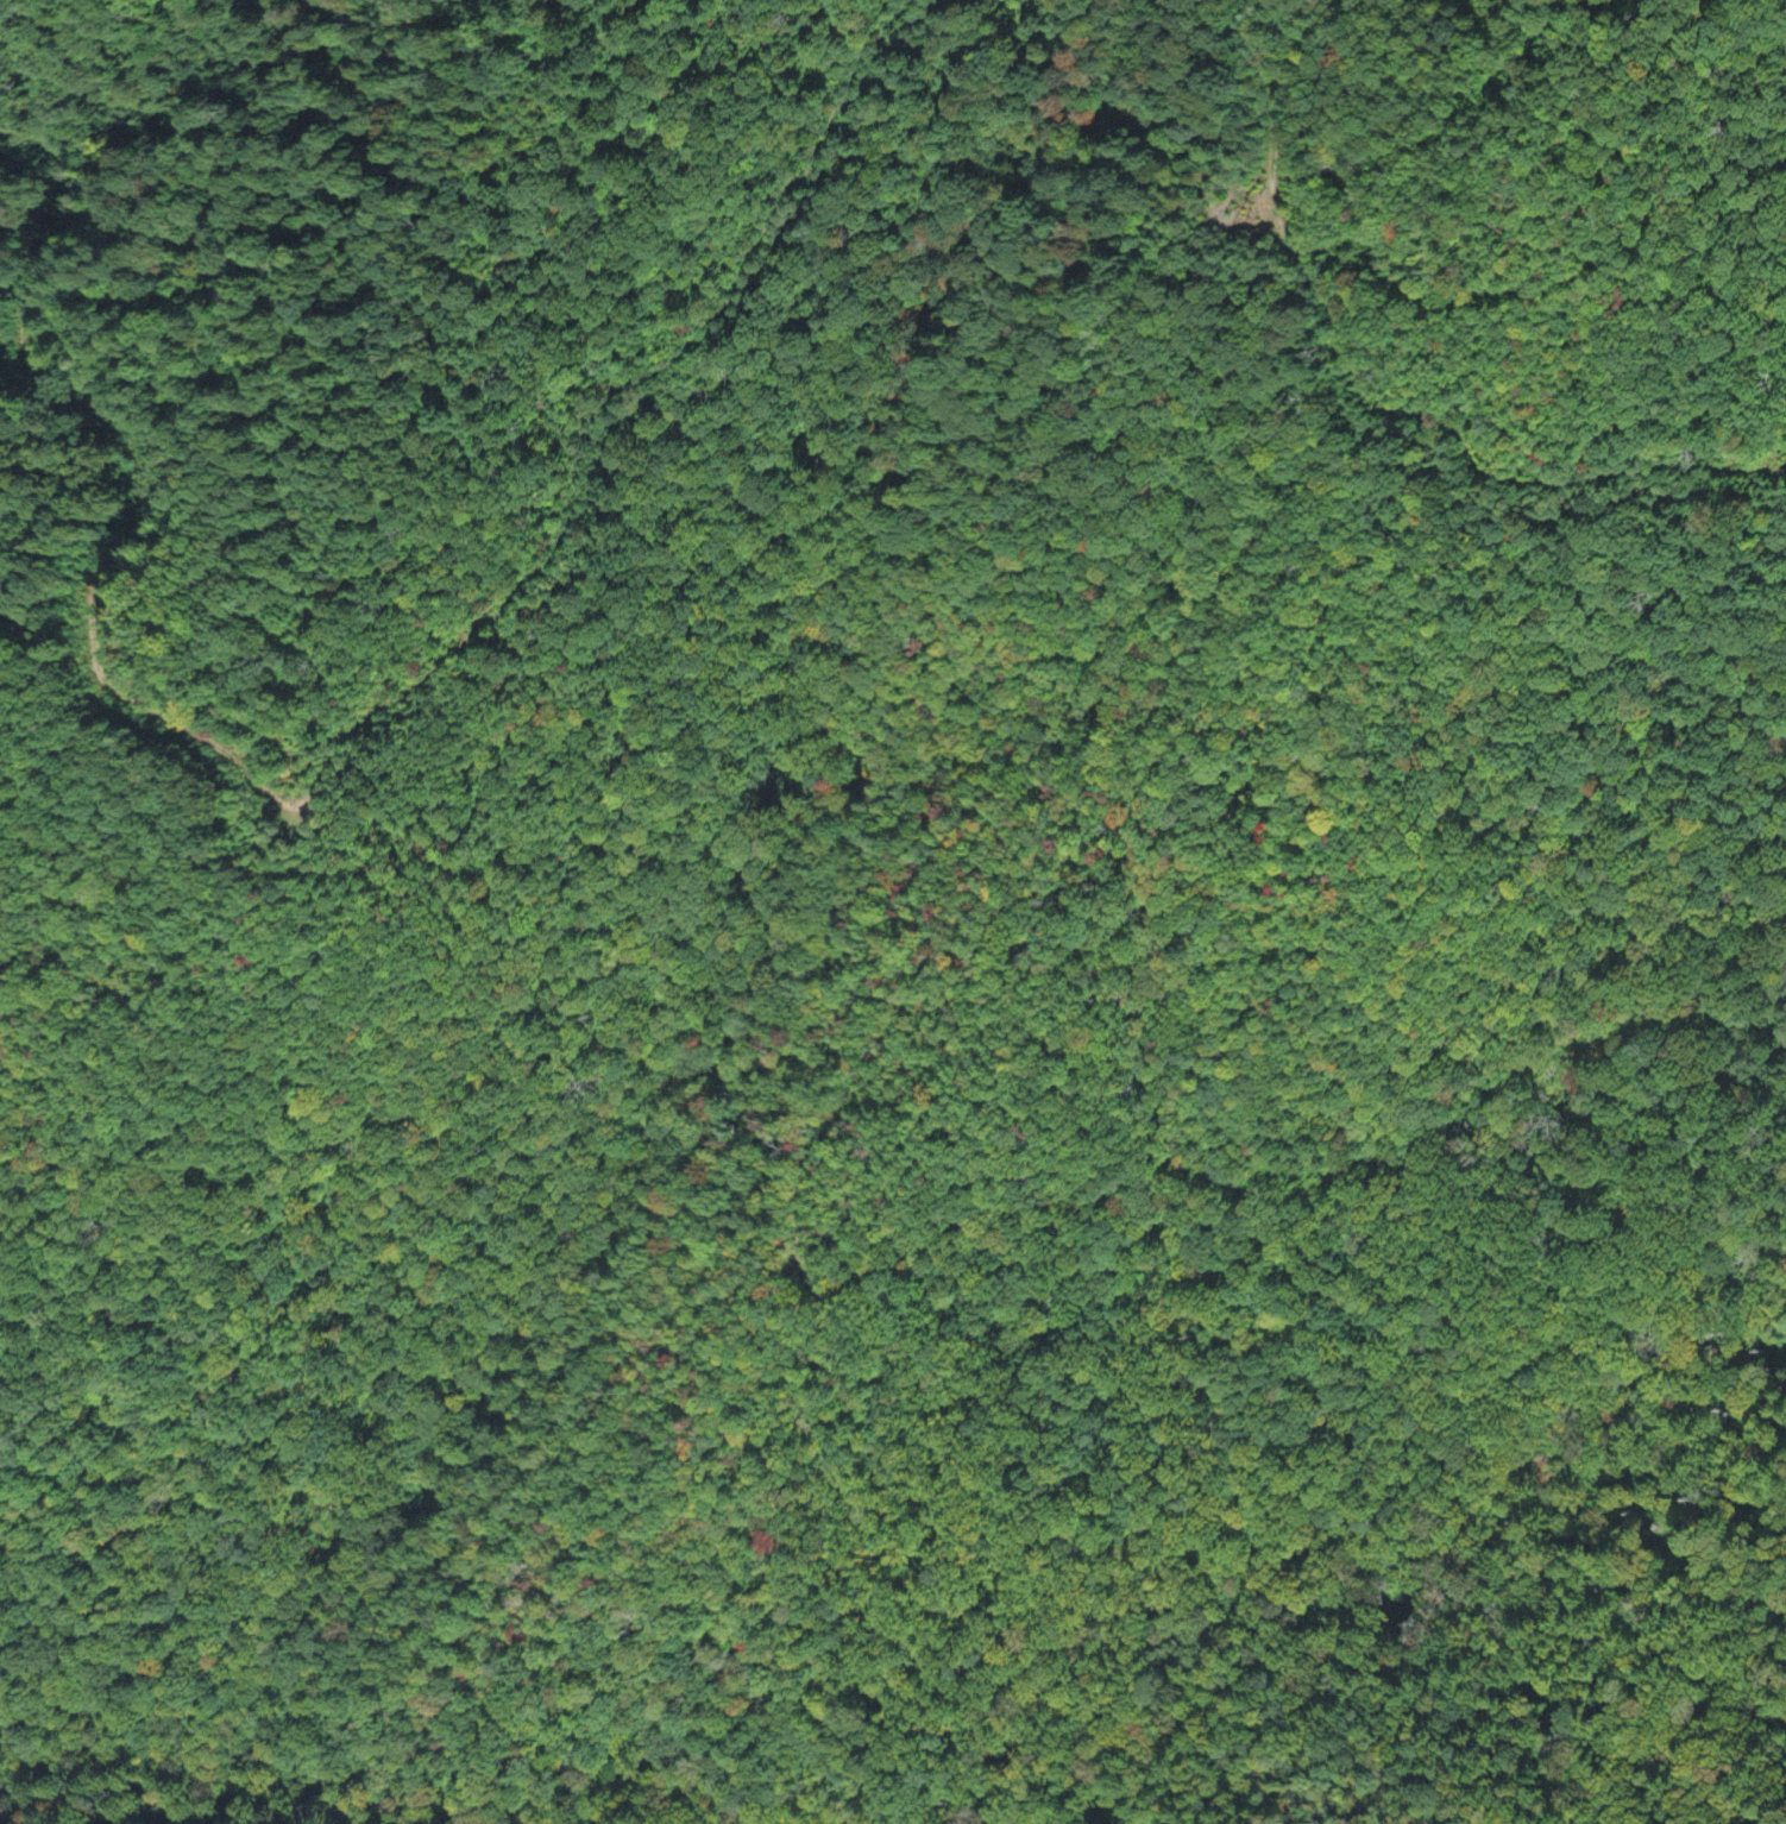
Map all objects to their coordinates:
road: (1061, 671)
road: (144, 952)
road: (819, 1065)

